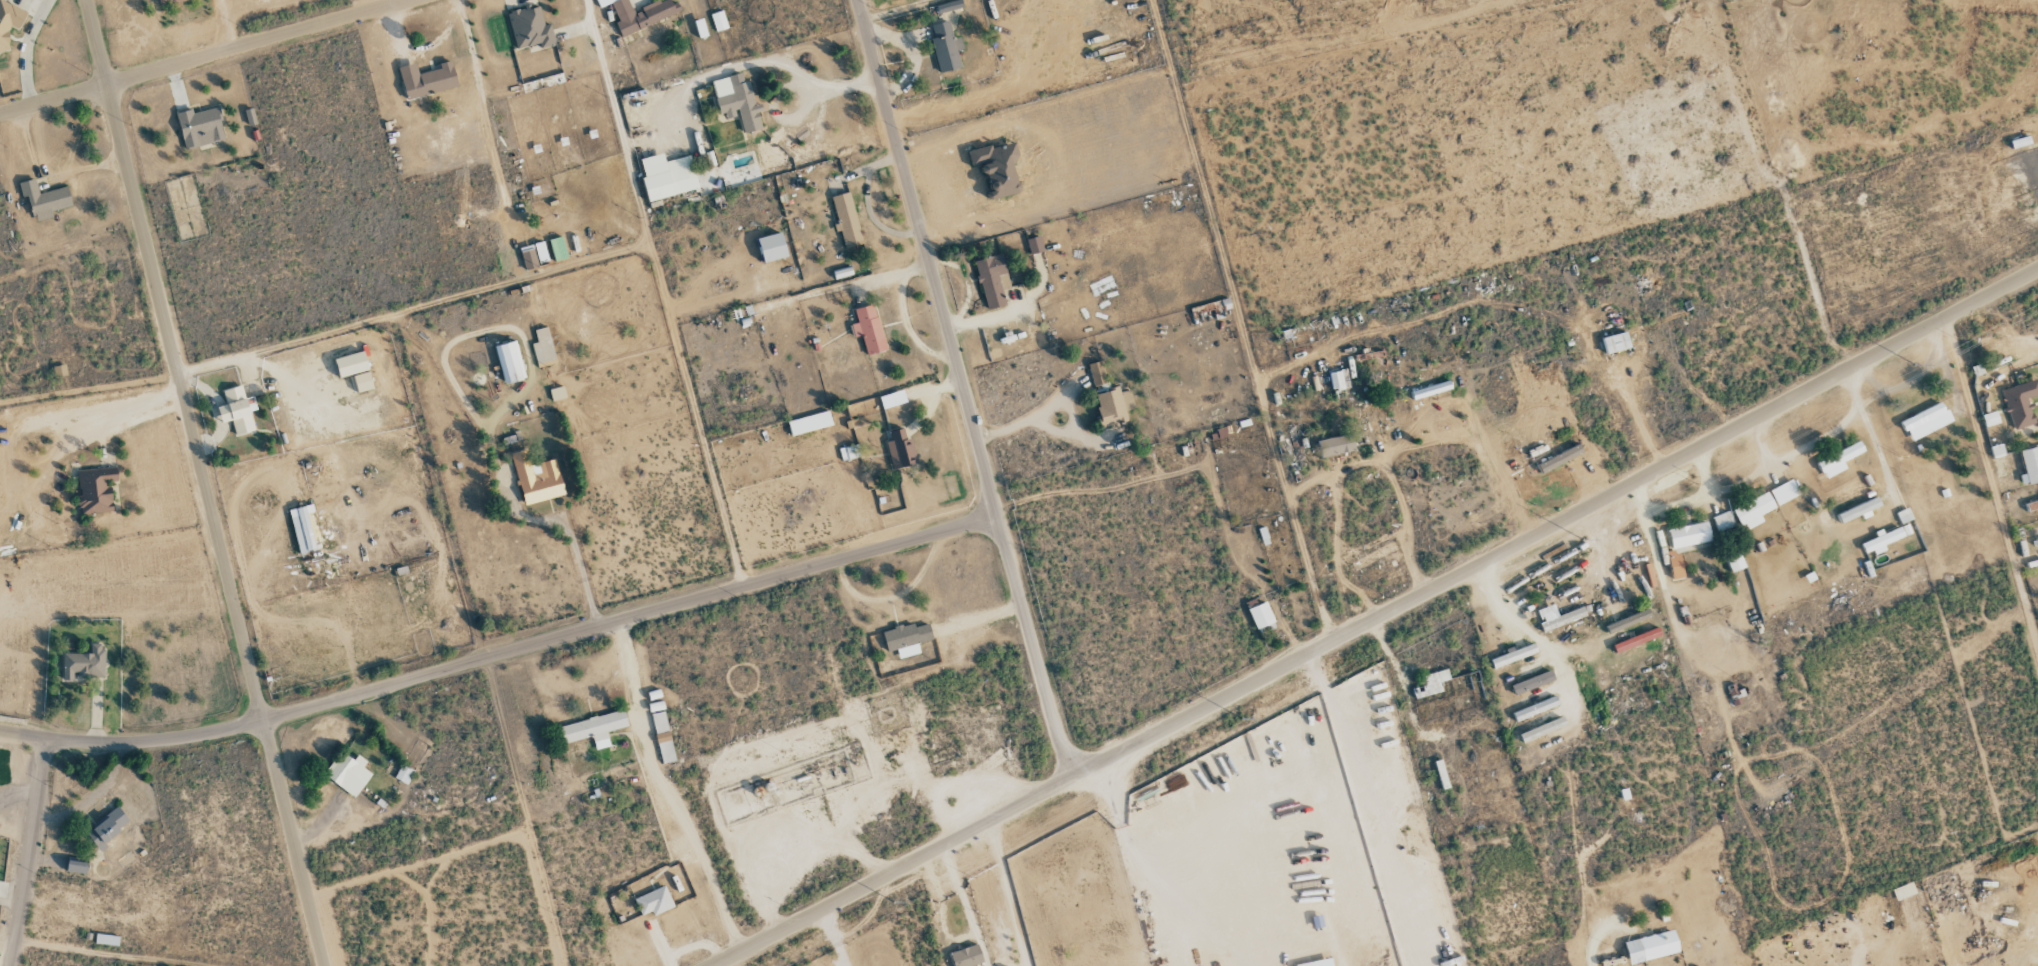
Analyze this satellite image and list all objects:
building: (168, 1)
building: (604, 2)
building: (948, 6)
road: (895, 9)
building: (639, 14)
building: (718, 21)
building: (8, 24)
building: (529, 28)
building: (945, 47)
road: (206, 57)
building: (427, 80)
road: (785, 87)
building: (741, 104)
building: (200, 127)
building: (997, 168)
building: (667, 176)
building: (44, 199)
building: (846, 218)
building: (1034, 245)
building: (534, 256)
building: (990, 280)
building: (868, 329)
building: (1615, 342)
building: (543, 348)
building: (509, 362)
building: (350, 364)
building: (59, 370)
building: (1096, 373)
building: (1339, 380)
building: (363, 382)
road: (961, 391)
building: (557, 393)
building: (892, 399)
building: (2020, 403)
building: (1113, 406)
building: (237, 410)
road: (1637, 419)
building: (1926, 421)
building: (809, 423)
building: (1336, 445)
building: (900, 449)
building: (1839, 459)
building: (2029, 465)
building: (536, 478)
road: (204, 483)
building: (95, 490)
building: (1784, 492)
building: (1753, 510)
building: (1859, 510)
building: (1904, 515)
building: (1722, 521)
building: (307, 537)
building: (1882, 541)
road: (572, 543)
building: (1684, 544)
road: (869, 555)
building: (1734, 561)
building: (1260, 614)
building: (1557, 616)
road: (1377, 618)
building: (906, 638)
building: (1637, 639)
building: (1513, 655)
building: (84, 663)
building: (1532, 682)
building: (1432, 683)
road: (373, 689)
building: (1535, 708)
building: (593, 728)
building: (1542, 729)
building: (662, 736)
building: (348, 773)
building: (403, 774)
road: (668, 792)
building: (107, 827)
road: (28, 852)
building: (76, 866)
building: (1903, 890)
building: (653, 901)
road: (965, 906)
road: (942, 911)
building: (107, 939)
building: (1651, 946)
building: (966, 956)
road: (736, 961)
building: (1317, 962)
road: (1811, 964)

